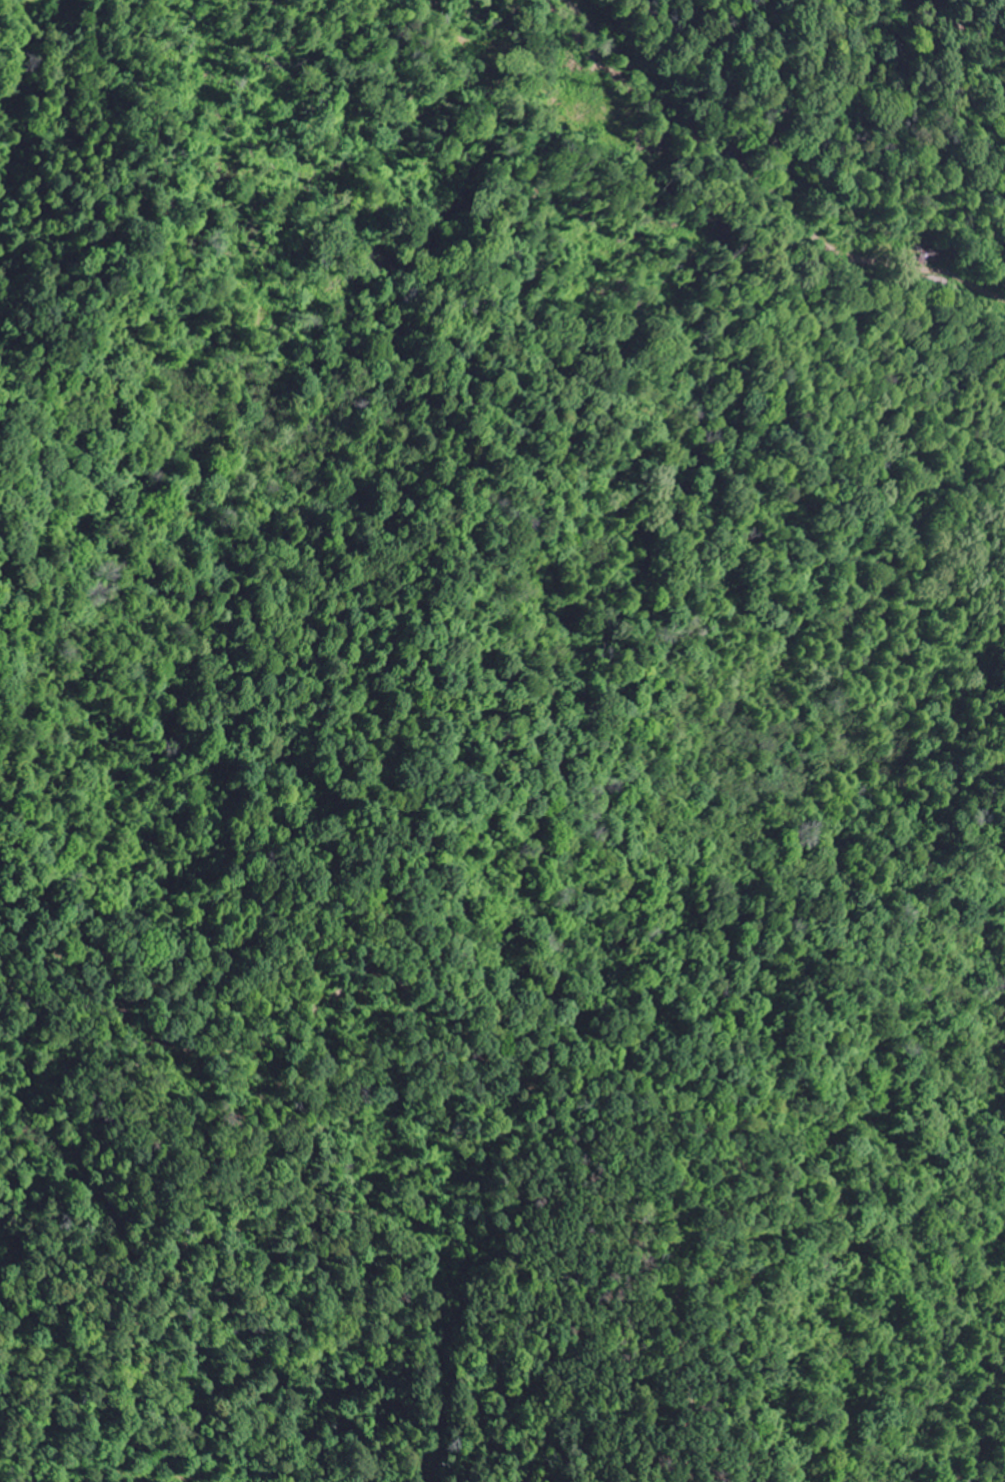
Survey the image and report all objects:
road: (769, 162)

